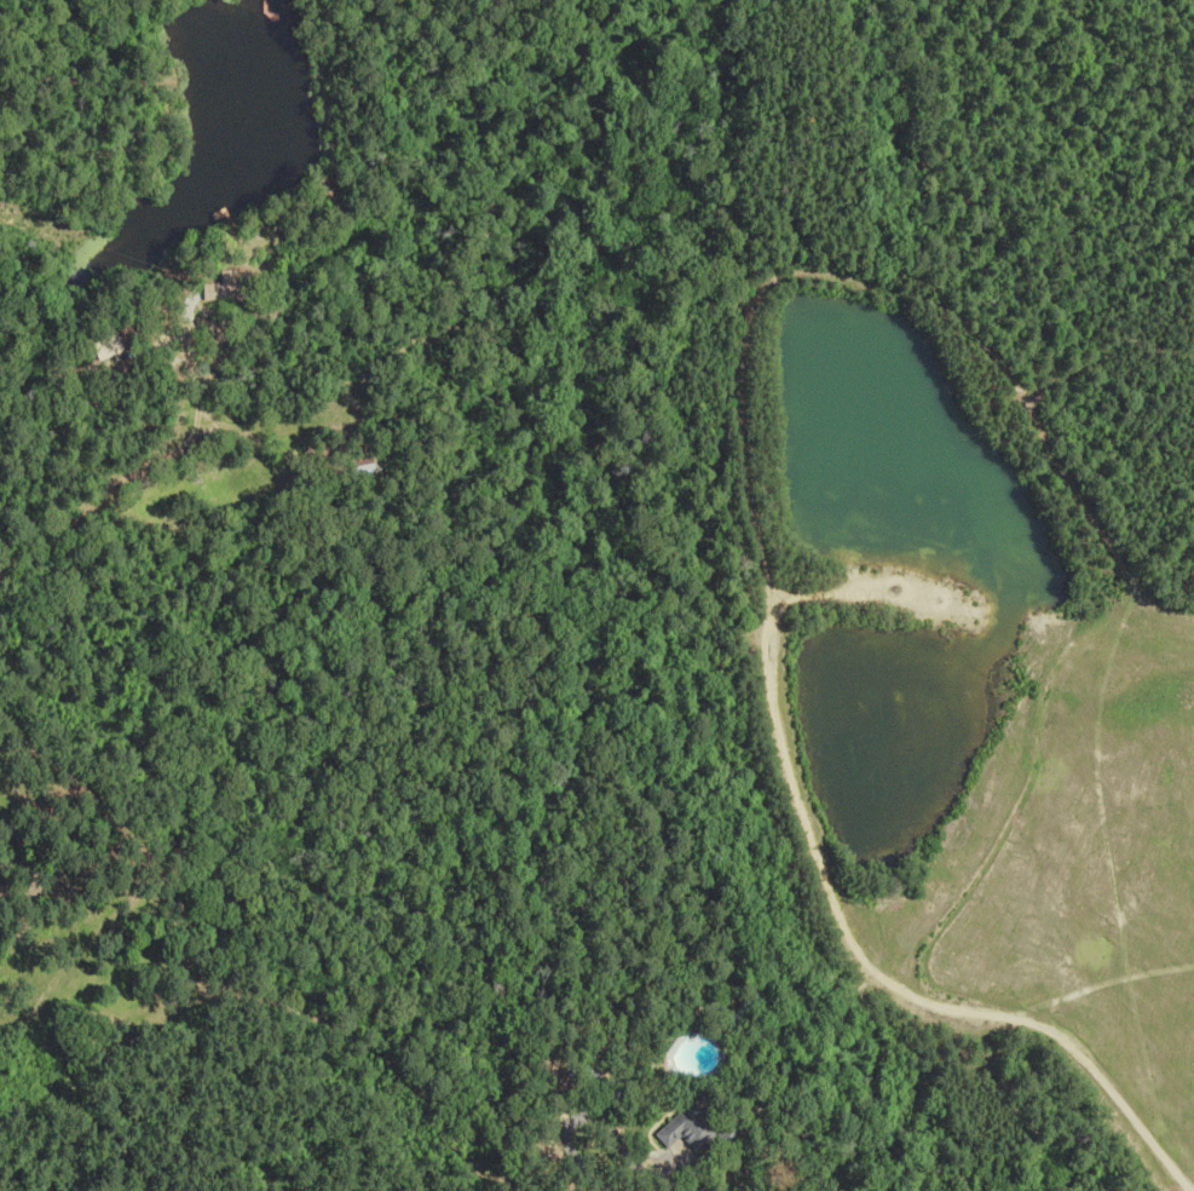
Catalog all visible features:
road: (198, 326)
road: (258, 435)
building: (364, 465)
road: (110, 489)
road: (878, 980)
road: (582, 1115)

